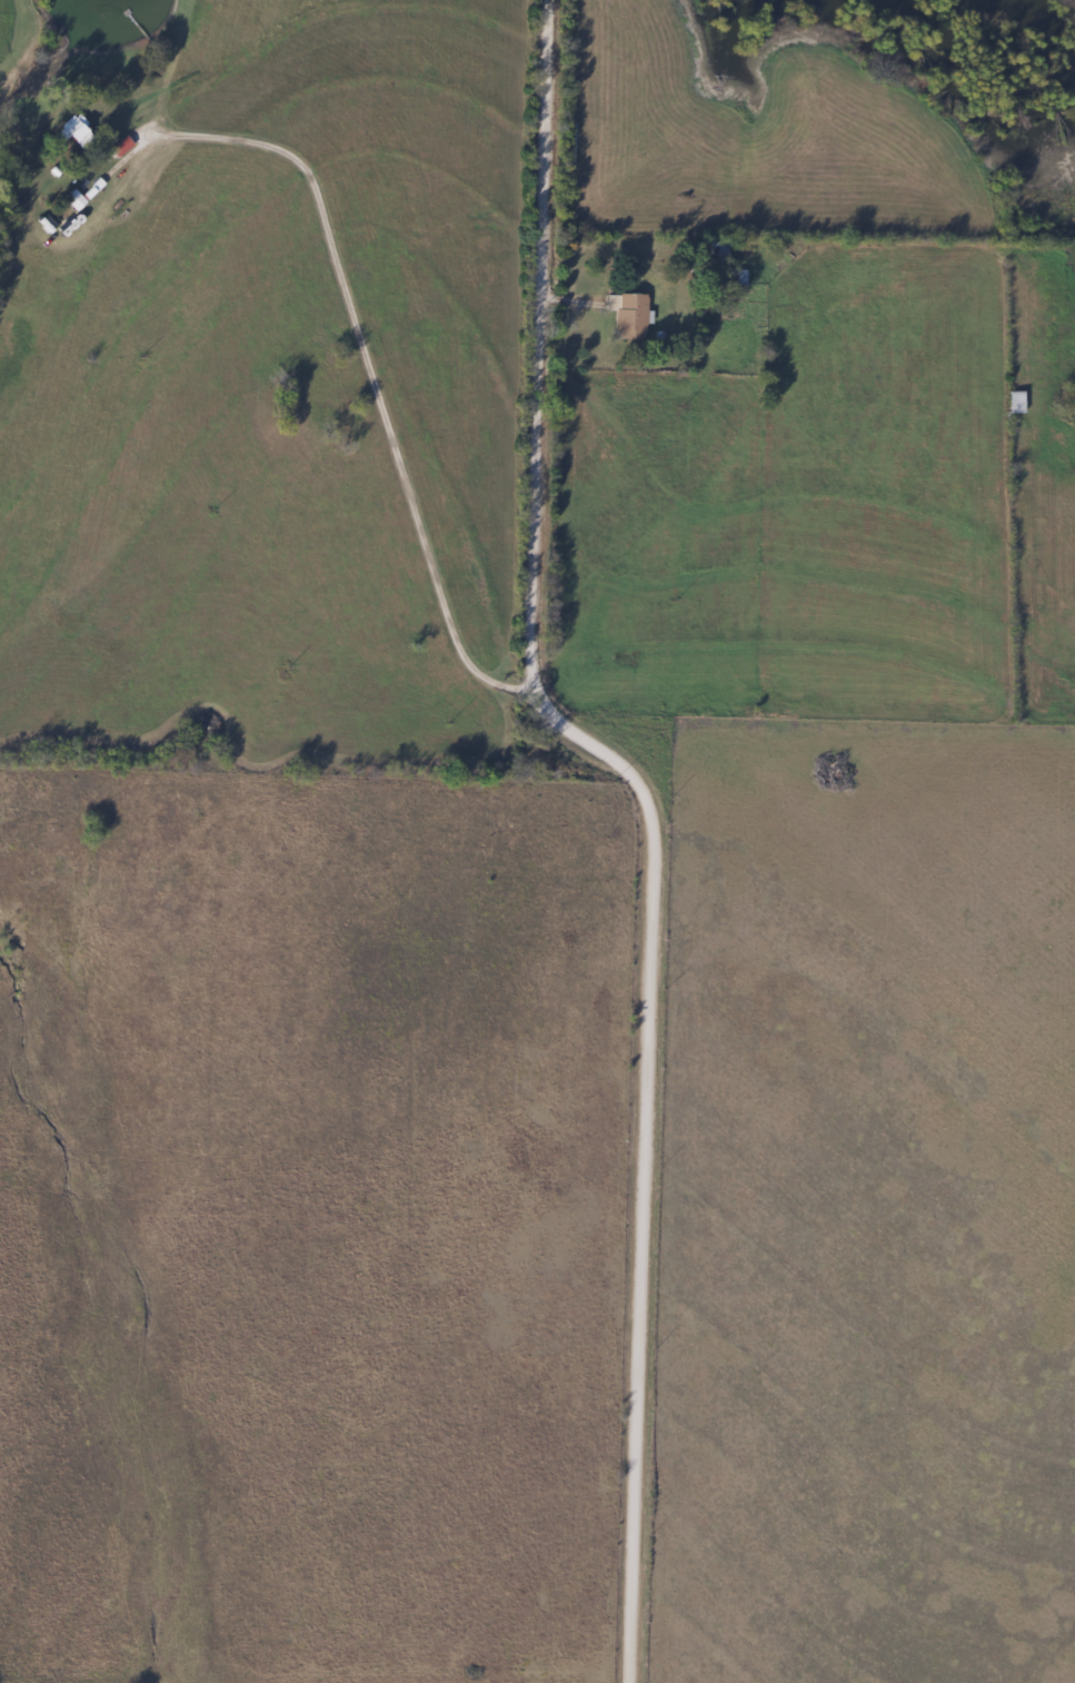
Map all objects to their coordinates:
building: (70, 132)
building: (629, 317)
road: (360, 379)
building: (1015, 403)
road: (270, 760)
road: (631, 819)

